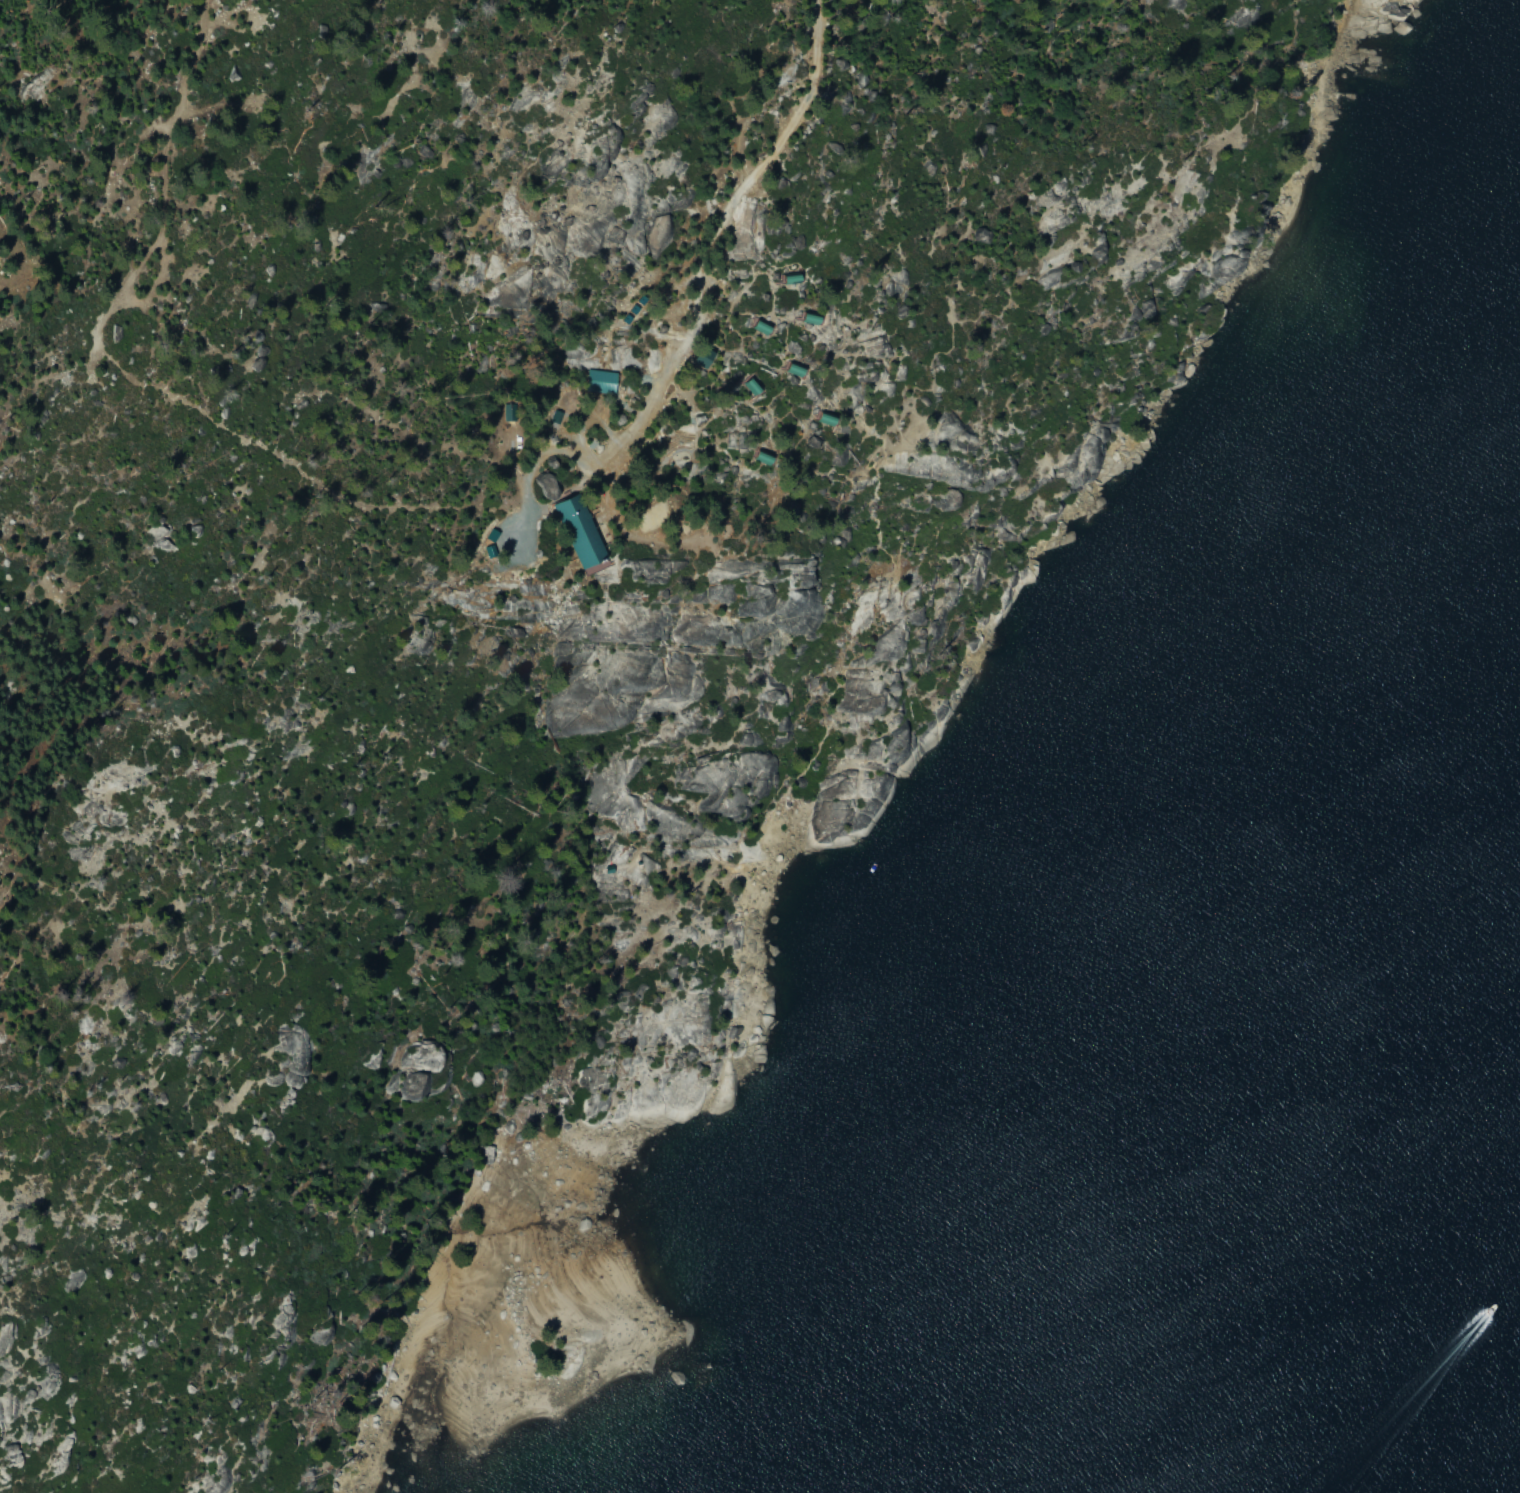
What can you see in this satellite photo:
road: (216, 143)
road: (710, 308)
building: (695, 357)
building: (596, 381)
building: (578, 531)

